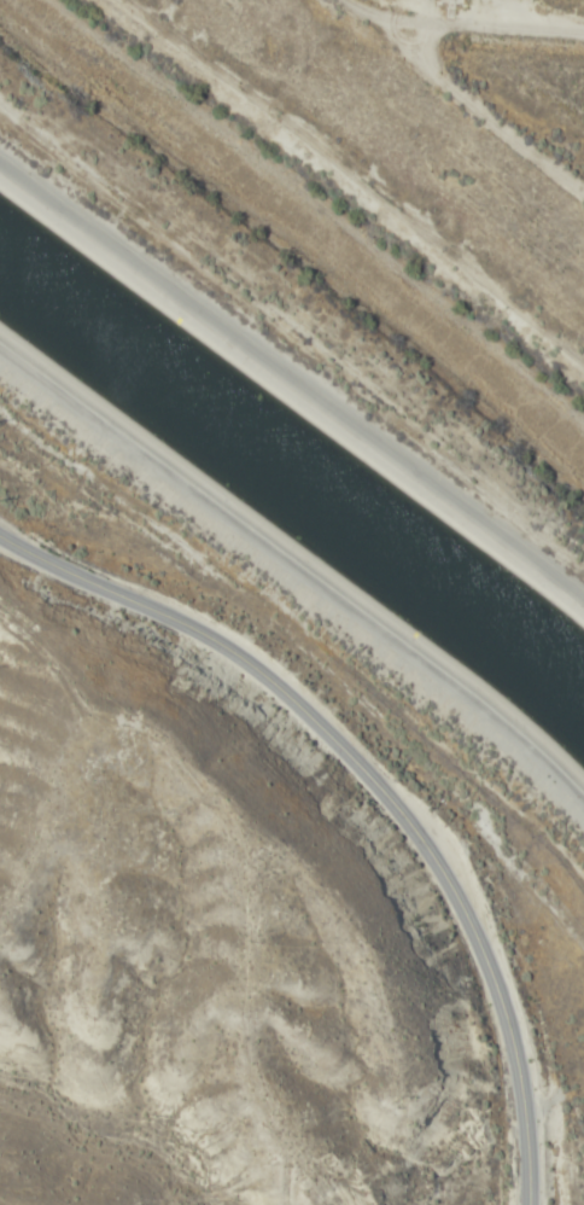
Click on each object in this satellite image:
road: (480, 16)
road: (474, 87)
road: (293, 373)
road: (297, 593)
road: (373, 786)

